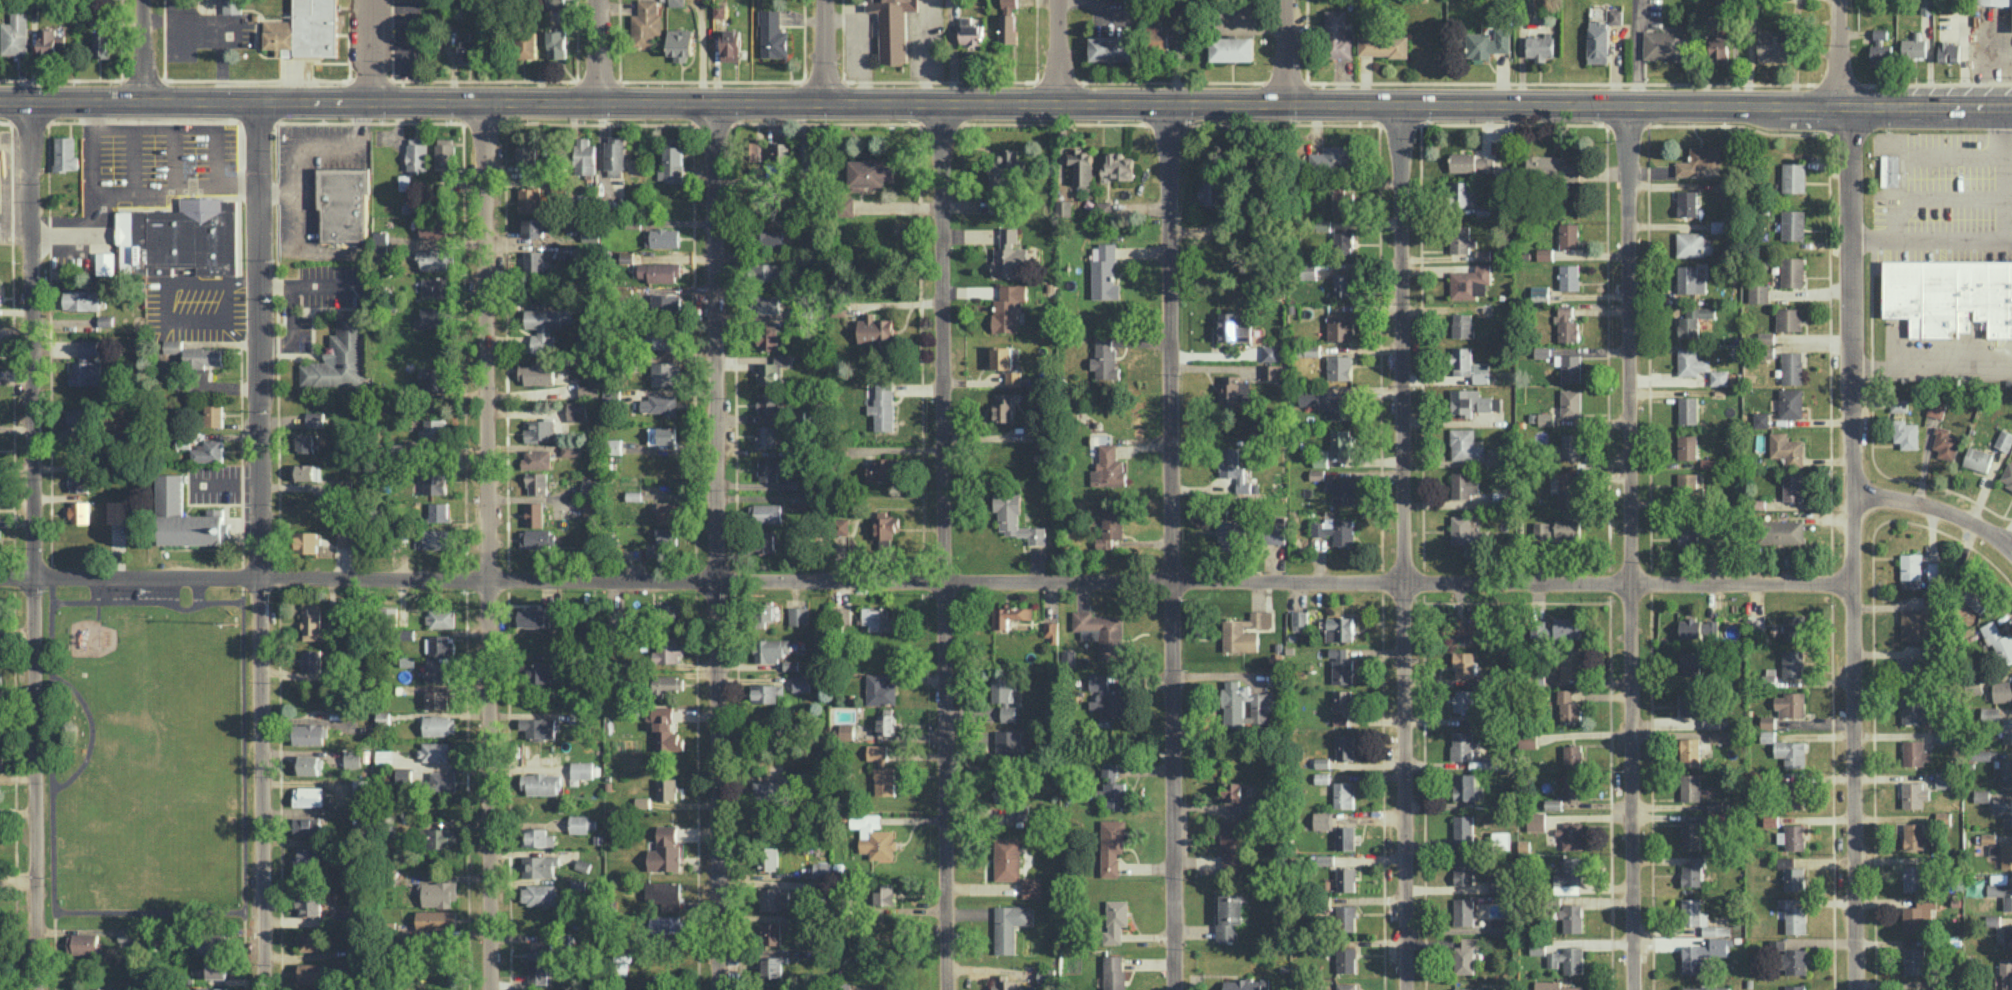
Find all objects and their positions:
building: (952, 2)
building: (1009, 2)
building: (555, 4)
building: (1130, 4)
building: (233, 6)
building: (1926, 6)
building: (719, 9)
building: (1177, 15)
building: (645, 24)
building: (893, 27)
building: (1008, 28)
building: (306, 29)
building: (15, 34)
building: (773, 34)
building: (971, 34)
building: (1338, 34)
building: (1159, 38)
building: (51, 41)
building: (556, 42)
road: (861, 43)
building: (1488, 43)
building: (102, 44)
building: (680, 44)
building: (1666, 44)
building: (731, 45)
building: (1383, 45)
building: (527, 46)
building: (1539, 46)
building: (1914, 46)
building: (1111, 48)
building: (1232, 48)
building: (1881, 48)
building: (1719, 49)
road: (142, 51)
road: (371, 51)
road: (597, 51)
road: (822, 51)
road: (926, 51)
road: (1288, 51)
road: (1058, 52)
road: (1639, 53)
road: (1839, 53)
road: (926, 103)
road: (1932, 105)
road: (181, 128)
building: (753, 151)
building: (781, 151)
building: (66, 153)
building: (417, 153)
building: (527, 153)
building: (445, 154)
building: (811, 154)
building: (585, 156)
building: (615, 156)
road: (178, 157)
building: (1333, 158)
road: (133, 160)
building: (1699, 160)
building: (1472, 162)
building: (672, 164)
building: (1081, 165)
building: (1118, 165)
building: (1005, 168)
road: (1852, 171)
road: (2001, 171)
building: (870, 172)
building: (1794, 177)
building: (404, 181)
building: (1062, 191)
building: (1463, 191)
road: (132, 192)
building: (1213, 192)
building: (530, 199)
building: (1341, 199)
building: (344, 203)
building: (1687, 203)
building: (847, 206)
building: (1104, 207)
building: (1483, 210)
building: (1323, 224)
building: (1793, 224)
building: (534, 227)
building: (436, 228)
building: (1221, 230)
building: (590, 233)
building: (379, 235)
building: (1009, 235)
building: (1569, 235)
road: (81, 236)
building: (665, 237)
building: (195, 238)
building: (772, 238)
building: (1459, 238)
road: (1932, 238)
building: (126, 240)
building: (1343, 241)
building: (1693, 243)
building: (382, 251)
building: (1545, 253)
building: (1483, 254)
building: (625, 256)
building: (435, 258)
building: (1009, 260)
building: (534, 261)
building: (1309, 269)
building: (660, 271)
building: (766, 271)
building: (1793, 271)
building: (1105, 273)
building: (1569, 276)
building: (1690, 279)
road: (214, 280)
building: (1470, 282)
building: (1342, 283)
road: (307, 284)
building: (434, 287)
building: (1540, 293)
building: (1949, 294)
parking lot: (322, 295)
building: (81, 299)
building: (667, 303)
building: (769, 304)
building: (1008, 306)
building: (434, 317)
building: (1789, 318)
road: (195, 319)
building: (1693, 320)
building: (1462, 324)
building: (1567, 324)
building: (546, 326)
building: (1340, 326)
building: (1233, 328)
road: (293, 329)
building: (875, 330)
road: (238, 337)
building: (663, 338)
building: (768, 338)
building: (173, 346)
building: (88, 347)
building: (1309, 349)
building: (1542, 351)
building: (1274, 352)
building: (203, 356)
building: (1001, 357)
building: (341, 358)
building: (1105, 360)
building: (1462, 360)
building: (1691, 361)
building: (1340, 366)
building: (1570, 367)
building: (1792, 367)
building: (774, 369)
road: (1932, 369)
building: (1275, 371)
building: (86, 372)
building: (1481, 372)
building: (538, 373)
building: (667, 373)
building: (1013, 377)
building: (1719, 377)
building: (437, 380)
road: (207, 383)
building: (589, 387)
building: (1234, 390)
building: (1327, 401)
building: (1472, 401)
building: (1571, 402)
building: (769, 403)
building: (1791, 403)
building: (1898, 403)
building: (660, 404)
building: (881, 404)
building: (1003, 407)
building: (1936, 407)
building: (1688, 409)
building: (577, 411)
building: (213, 415)
building: (77, 416)
building: (315, 418)
building: (1545, 418)
building: (1761, 419)
building: (540, 429)
building: (434, 430)
building: (1037, 433)
building: (1905, 433)
building: (668, 434)
building: (767, 436)
building: (304, 442)
building: (1341, 442)
building: (1945, 443)
building: (1571, 444)
building: (614, 445)
building: (1465, 445)
building: (1687, 446)
building: (1787, 448)
building: (571, 450)
building: (208, 451)
building: (536, 458)
building: (1320, 458)
building: (1978, 458)
building: (1108, 464)
building: (1233, 467)
building: (768, 469)
building: (884, 469)
building: (305, 471)
building: (1317, 474)
building: (2007, 475)
building: (79, 480)
building: (435, 480)
building: (1687, 480)
building: (537, 482)
building: (790, 483)
building: (1464, 484)
building: (1793, 486)
building: (591, 487)
building: (1566, 487)
building: (1341, 490)
building: (633, 495)
building: (1503, 497)
building: (799, 499)
road: (1936, 508)
building: (591, 510)
building: (117, 511)
building: (438, 511)
building: (671, 511)
building: (79, 512)
building: (765, 512)
building: (534, 513)
building: (186, 517)
building: (1015, 518)
building: (841, 525)
building: (885, 527)
building: (1110, 527)
building: (1276, 529)
building: (1335, 529)
building: (1558, 529)
building: (1466, 531)
building: (1783, 531)
building: (1231, 533)
building: (1692, 533)
building: (535, 537)
building: (347, 538)
building: (439, 538)
building: (307, 541)
building: (664, 541)
building: (766, 541)
road: (33, 545)
road: (485, 545)
road: (261, 546)
road: (716, 546)
road: (942, 546)
road: (1171, 546)
road: (1403, 546)
road: (1629, 548)
building: (1911, 570)
building: (1934, 570)
road: (926, 581)
building: (1975, 596)
road: (148, 600)
building: (766, 610)
building: (670, 611)
building: (0, 613)
building: (389, 614)
road: (1854, 614)
building: (798, 615)
building: (844, 615)
building: (1010, 615)
building: (535, 616)
building: (441, 617)
building: (879, 618)
building: (1300, 619)
building: (588, 620)
building: (314, 623)
building: (1913, 624)
building: (1756, 625)
building: (1471, 626)
building: (1567, 626)
building: (1794, 627)
building: (1339, 628)
building: (1698, 628)
building: (1051, 630)
building: (1245, 631)
building: (1101, 632)
building: (1998, 640)
building: (1, 643)
building: (440, 644)
building: (770, 649)
building: (667, 650)
building: (1068, 656)
building: (312, 660)
building: (407, 660)
building: (631, 662)
building: (1689, 663)
building: (1793, 663)
building: (791, 664)
building: (1465, 664)
building: (1571, 664)
building: (1341, 665)
building: (1911, 666)
building: (438, 669)
building: (540, 672)
building: (1484, 678)
building: (801, 682)
building: (668, 684)
building: (880, 690)
building: (2002, 691)
building: (766, 692)
building: (1106, 697)
building: (440, 698)
building: (1342, 700)
building: (1465, 700)
building: (1002, 701)
building: (1689, 704)
building: (1791, 704)
building: (1264, 705)
building: (1568, 706)
building: (1916, 710)
building: (1990, 714)
building: (1340, 720)
building: (887, 721)
building: (1767, 721)
building: (439, 725)
building: (539, 727)
building: (2007, 729)
building: (666, 730)
building: (847, 731)
building: (310, 734)
building: (1722, 736)
building: (1767, 736)
building: (1526, 741)
building: (1007, 744)
building: (1462, 745)
building: (1345, 746)
building: (436, 751)
building: (1690, 751)
building: (1791, 752)
building: (1915, 753)
building: (1573, 755)
building: (385, 757)
building: (353, 758)
building: (1, 761)
building: (1489, 761)
building: (1322, 762)
building: (308, 764)
building: (582, 769)
building: (882, 769)
building: (2004, 772)
building: (403, 774)
building: (1322, 777)
building: (1943, 779)
building: (443, 780)
building: (542, 783)
road: (51, 784)
road: (246, 784)
building: (359, 786)
building: (1111, 787)
building: (1467, 787)
building: (1572, 787)
building: (1690, 787)
building: (666, 788)
building: (766, 789)
building: (1005, 789)
building: (1235, 791)
building: (1343, 794)
building: (1796, 794)
building: (1914, 794)
building: (1981, 795)
building: (308, 796)
building: (643, 801)
building: (1553, 803)
building: (2004, 810)
building: (1021, 813)
building: (1323, 820)
building: (1536, 821)
building: (582, 823)
building: (307, 825)
building: (1463, 828)
building: (1691, 834)
building: (874, 835)
building: (1571, 835)
building: (1793, 836)
building: (1915, 836)
building: (441, 837)
building: (537, 837)
building: (1345, 837)
building: (1500, 838)
building: (1991, 843)
building: (1232, 844)
building: (1112, 845)
building: (1524, 845)
building: (665, 850)
building: (2006, 855)
building: (307, 856)
building: (768, 857)
building: (1007, 858)
building: (1323, 859)
building: (583, 864)
building: (540, 865)
building: (822, 869)
building: (1463, 869)
building: (1570, 872)
building: (1693, 872)
building: (1914, 877)
building: (1794, 878)
building: (1346, 879)
building: (817, 883)
building: (1499, 883)
building: (578, 884)
building: (1032, 886)
building: (2001, 889)
building: (438, 893)
building: (540, 894)
building: (885, 894)
building: (663, 895)
building: (775, 898)
building: (309, 903)
road: (146, 911)
building: (1463, 911)
building: (346, 913)
building: (1230, 915)
building: (1793, 915)
building: (1346, 917)
building: (1572, 917)
building: (1700, 917)
building: (1914, 918)
building: (436, 919)
building: (1115, 920)
building: (666, 923)
building: (1009, 925)
building: (1498, 926)
building: (125, 933)
building: (771, 933)
building: (2004, 936)
building: (159, 940)
building: (309, 940)
building: (212, 942)
building: (83, 943)
building: (1538, 948)
building: (540, 950)
building: (1703, 953)
building: (1466, 956)
building: (1346, 959)
building: (1567, 959)
building: (1914, 960)
building: (1795, 961)
building: (344, 962)
building: (772, 965)
building: (216, 968)
building: (622, 968)
building: (309, 972)
building: (1114, 972)
building: (538, 973)
building: (2006, 973)
building: (1046, 976)
building: (1004, 983)
building: (1246, 984)
building: (1554, 985)
building: (845, 986)
building: (1346, 986)
building: (884, 987)
building: (1707, 987)
building: (1794, 987)
building: (212, 988)
building: (364, 988)
building: (1474, 988)
building: (98, 989)
building: (313, 989)
building: (445, 989)
building: (635, 989)
building: (1913, 989)

